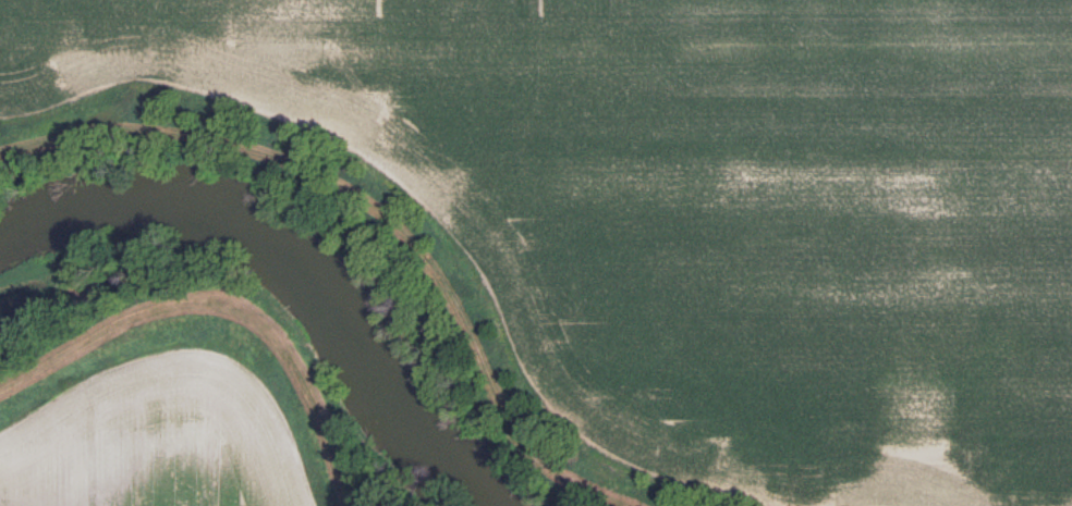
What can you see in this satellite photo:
river: (291, 252)

